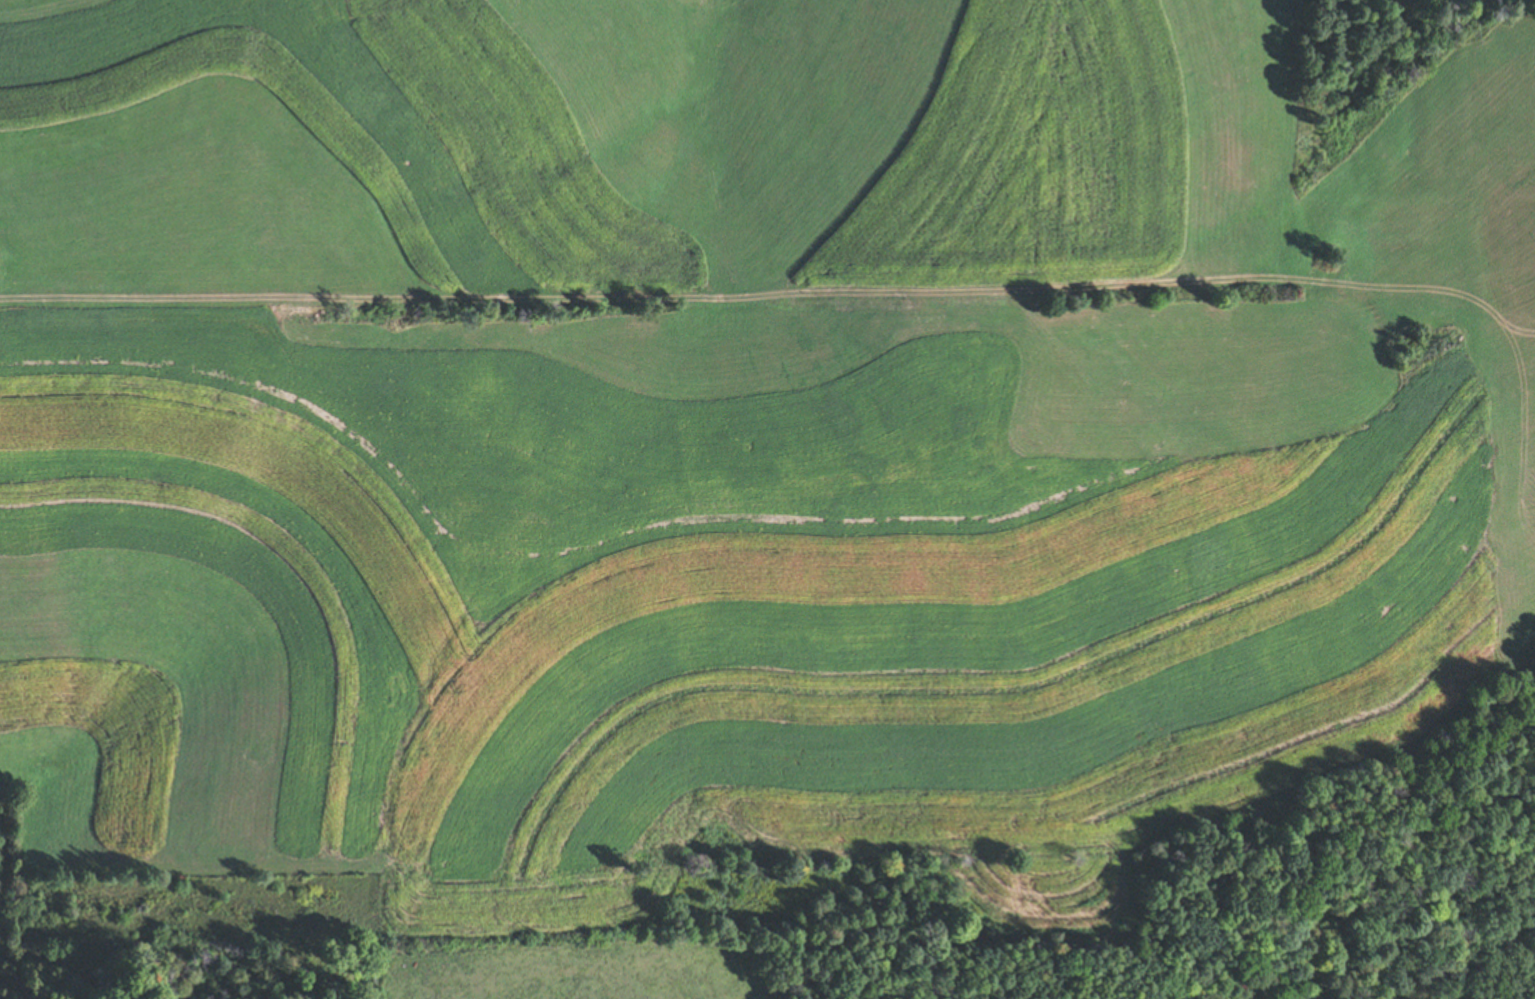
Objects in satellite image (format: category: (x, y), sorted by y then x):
crop: (645, 148)
crop: (772, 558)
crop: (566, 964)

